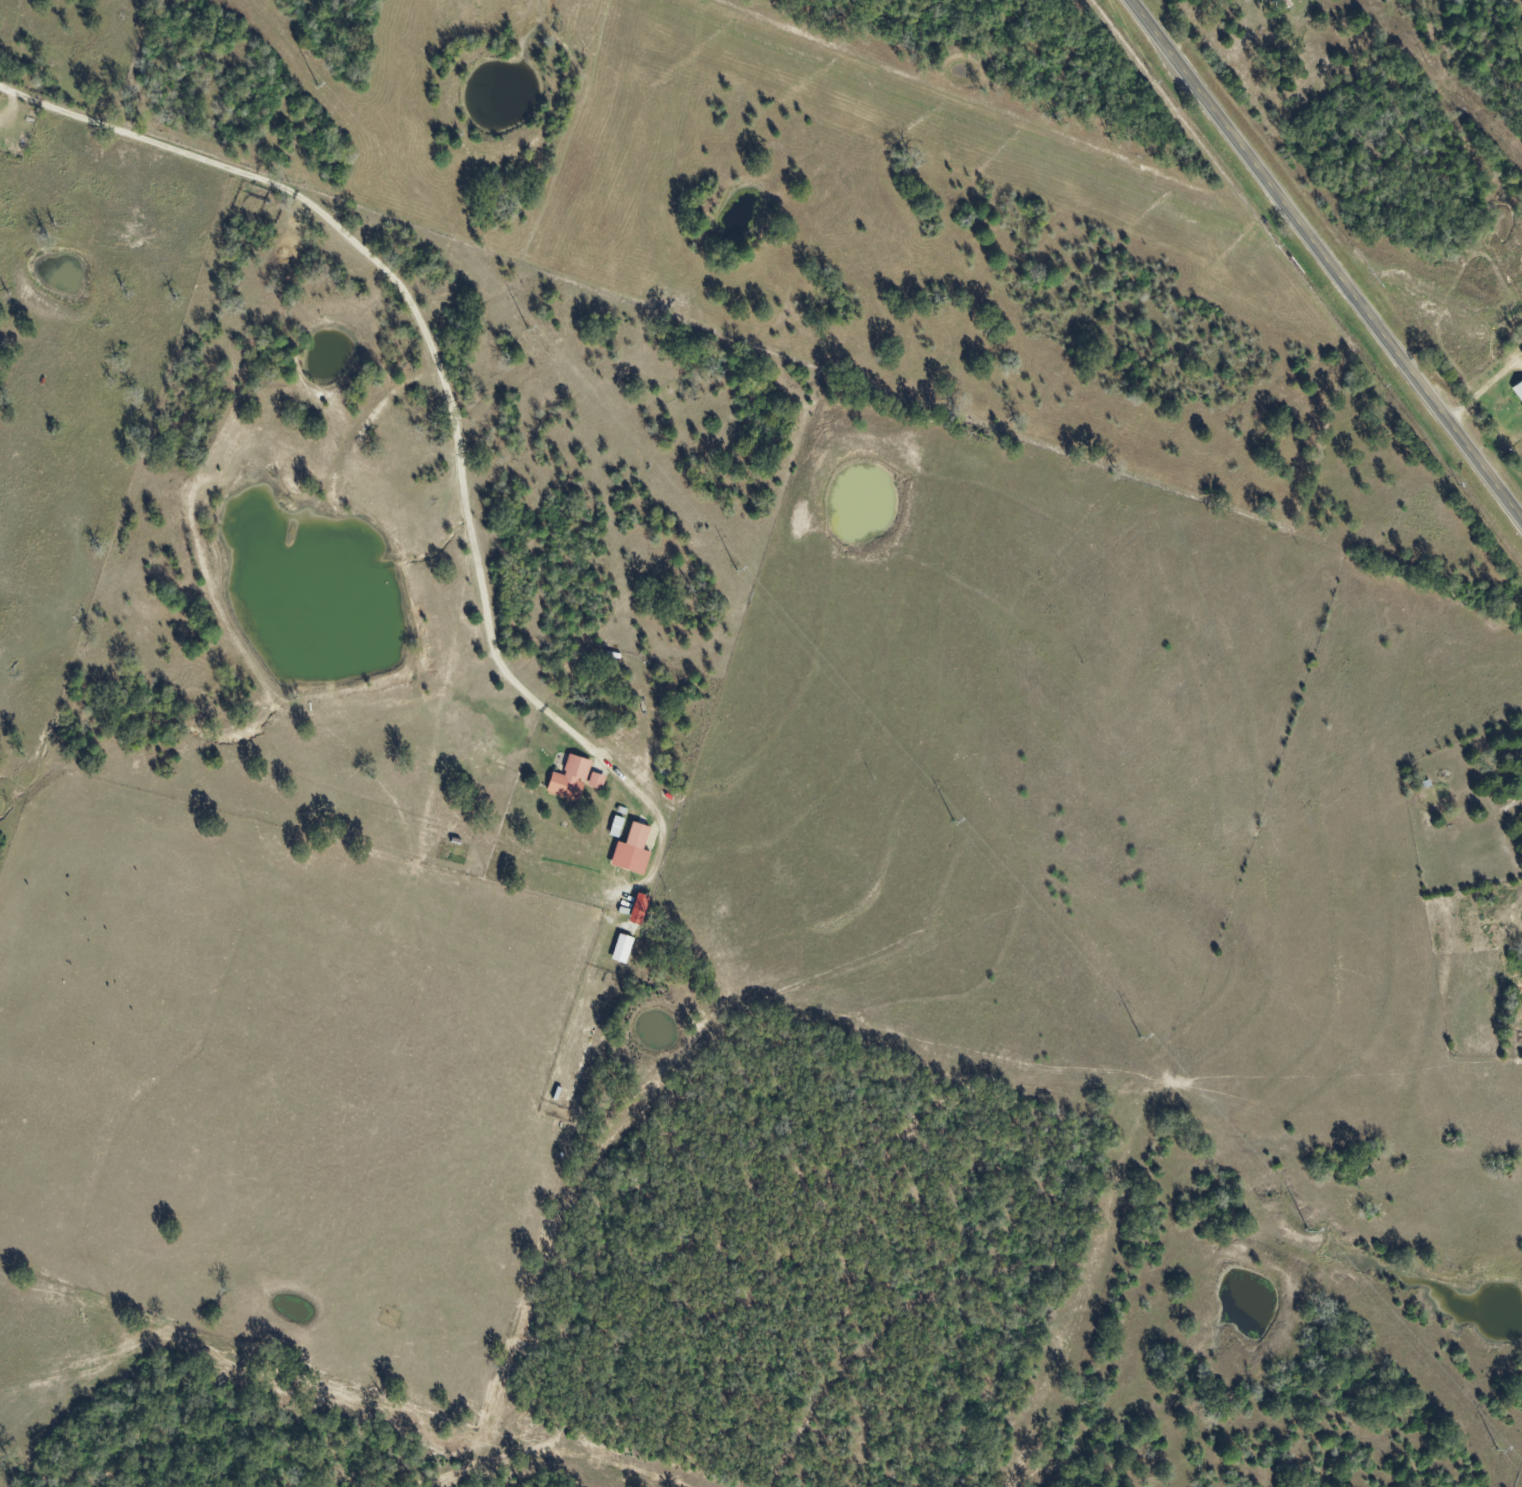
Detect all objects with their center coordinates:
power tower: (314, 86)
road: (1324, 261)
power tower: (526, 330)
building: (1517, 388)
power tower: (735, 571)
building: (572, 779)
building: (1521, 780)
building: (598, 782)
building: (1520, 793)
power tower: (951, 823)
building: (635, 851)
building: (642, 910)
building: (624, 949)
power tower: (1137, 1037)
power tower: (1304, 1232)
power tower: (1493, 1451)

